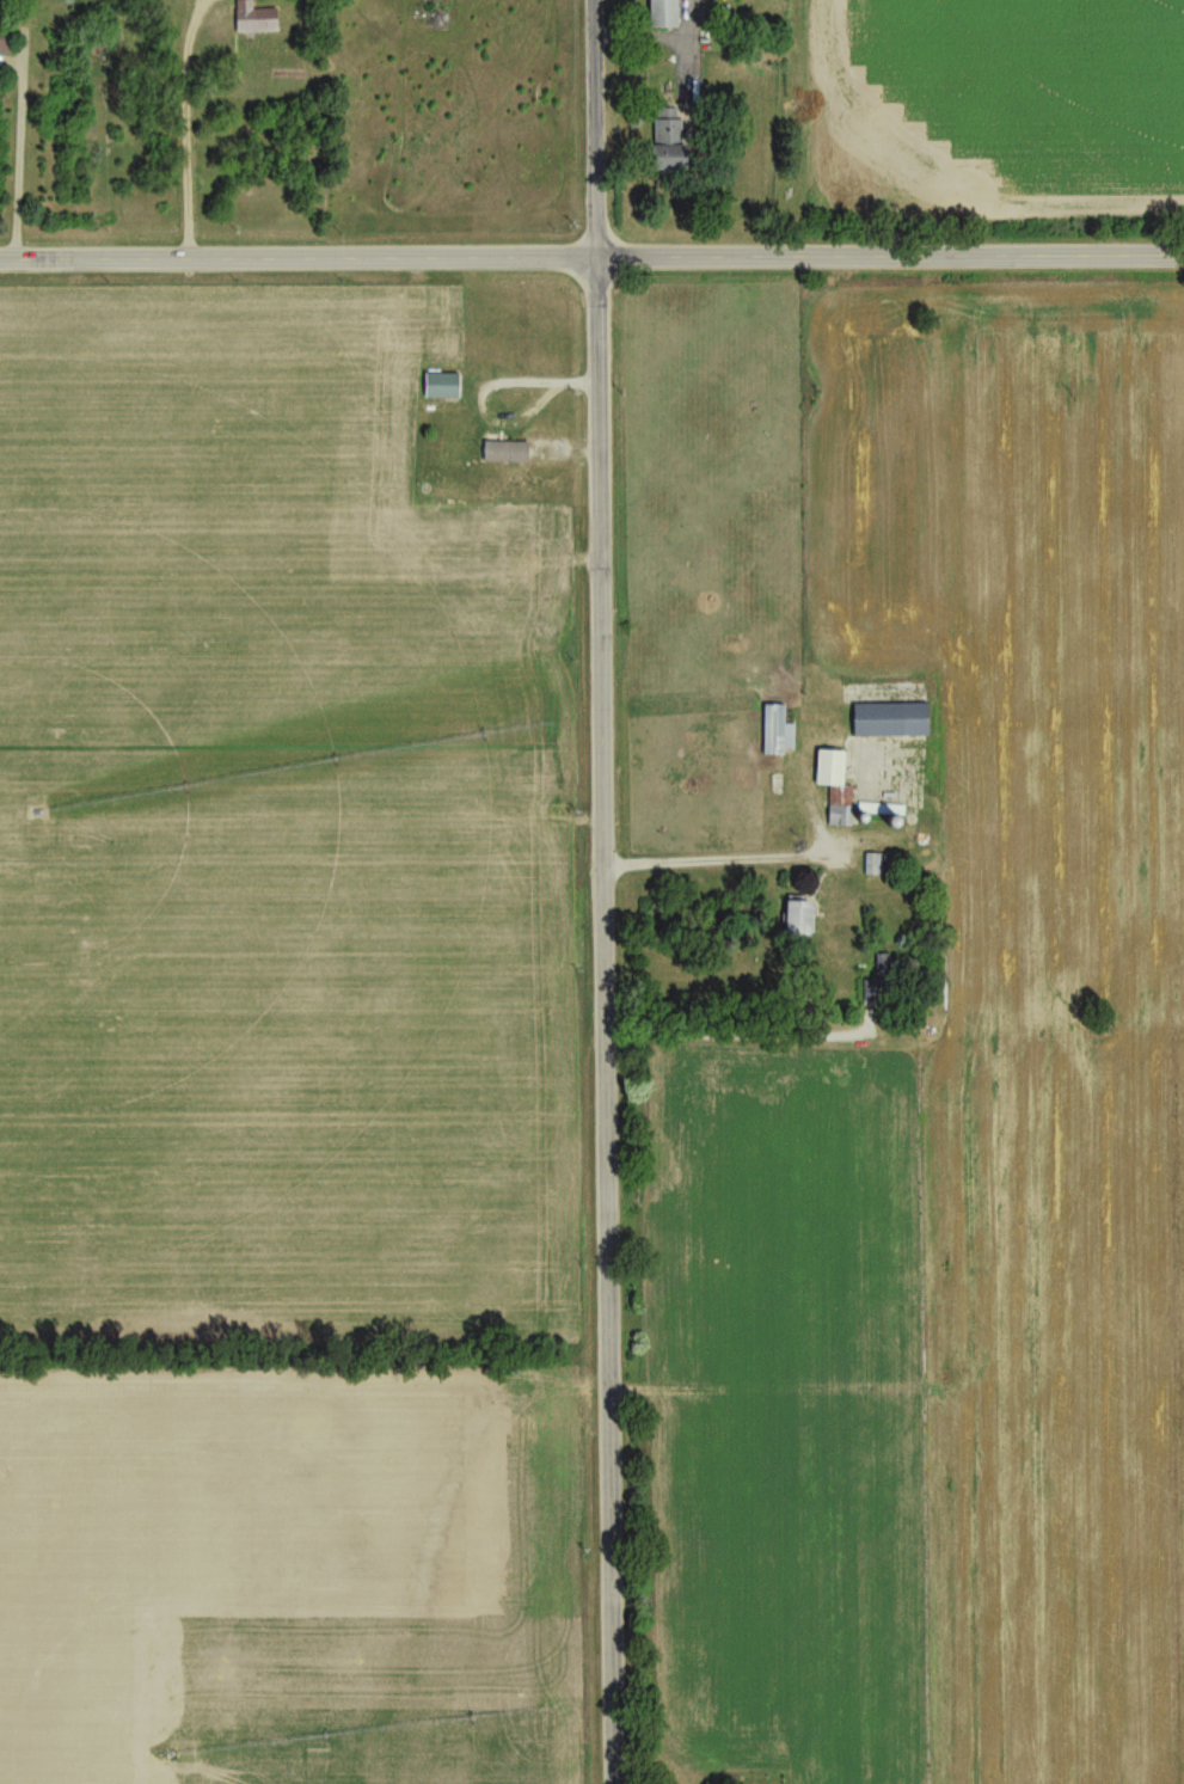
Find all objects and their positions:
building: (663, 16)
building: (256, 20)
building: (5, 42)
crop: (1013, 99)
road: (185, 124)
road: (593, 125)
building: (668, 143)
road: (17, 160)
road: (591, 251)
building: (441, 387)
building: (505, 453)
building: (890, 722)
building: (778, 734)
building: (836, 789)
road: (720, 856)
building: (875, 866)
building: (799, 919)
road: (603, 1017)
road: (731, 1034)
crop: (278, 1065)

